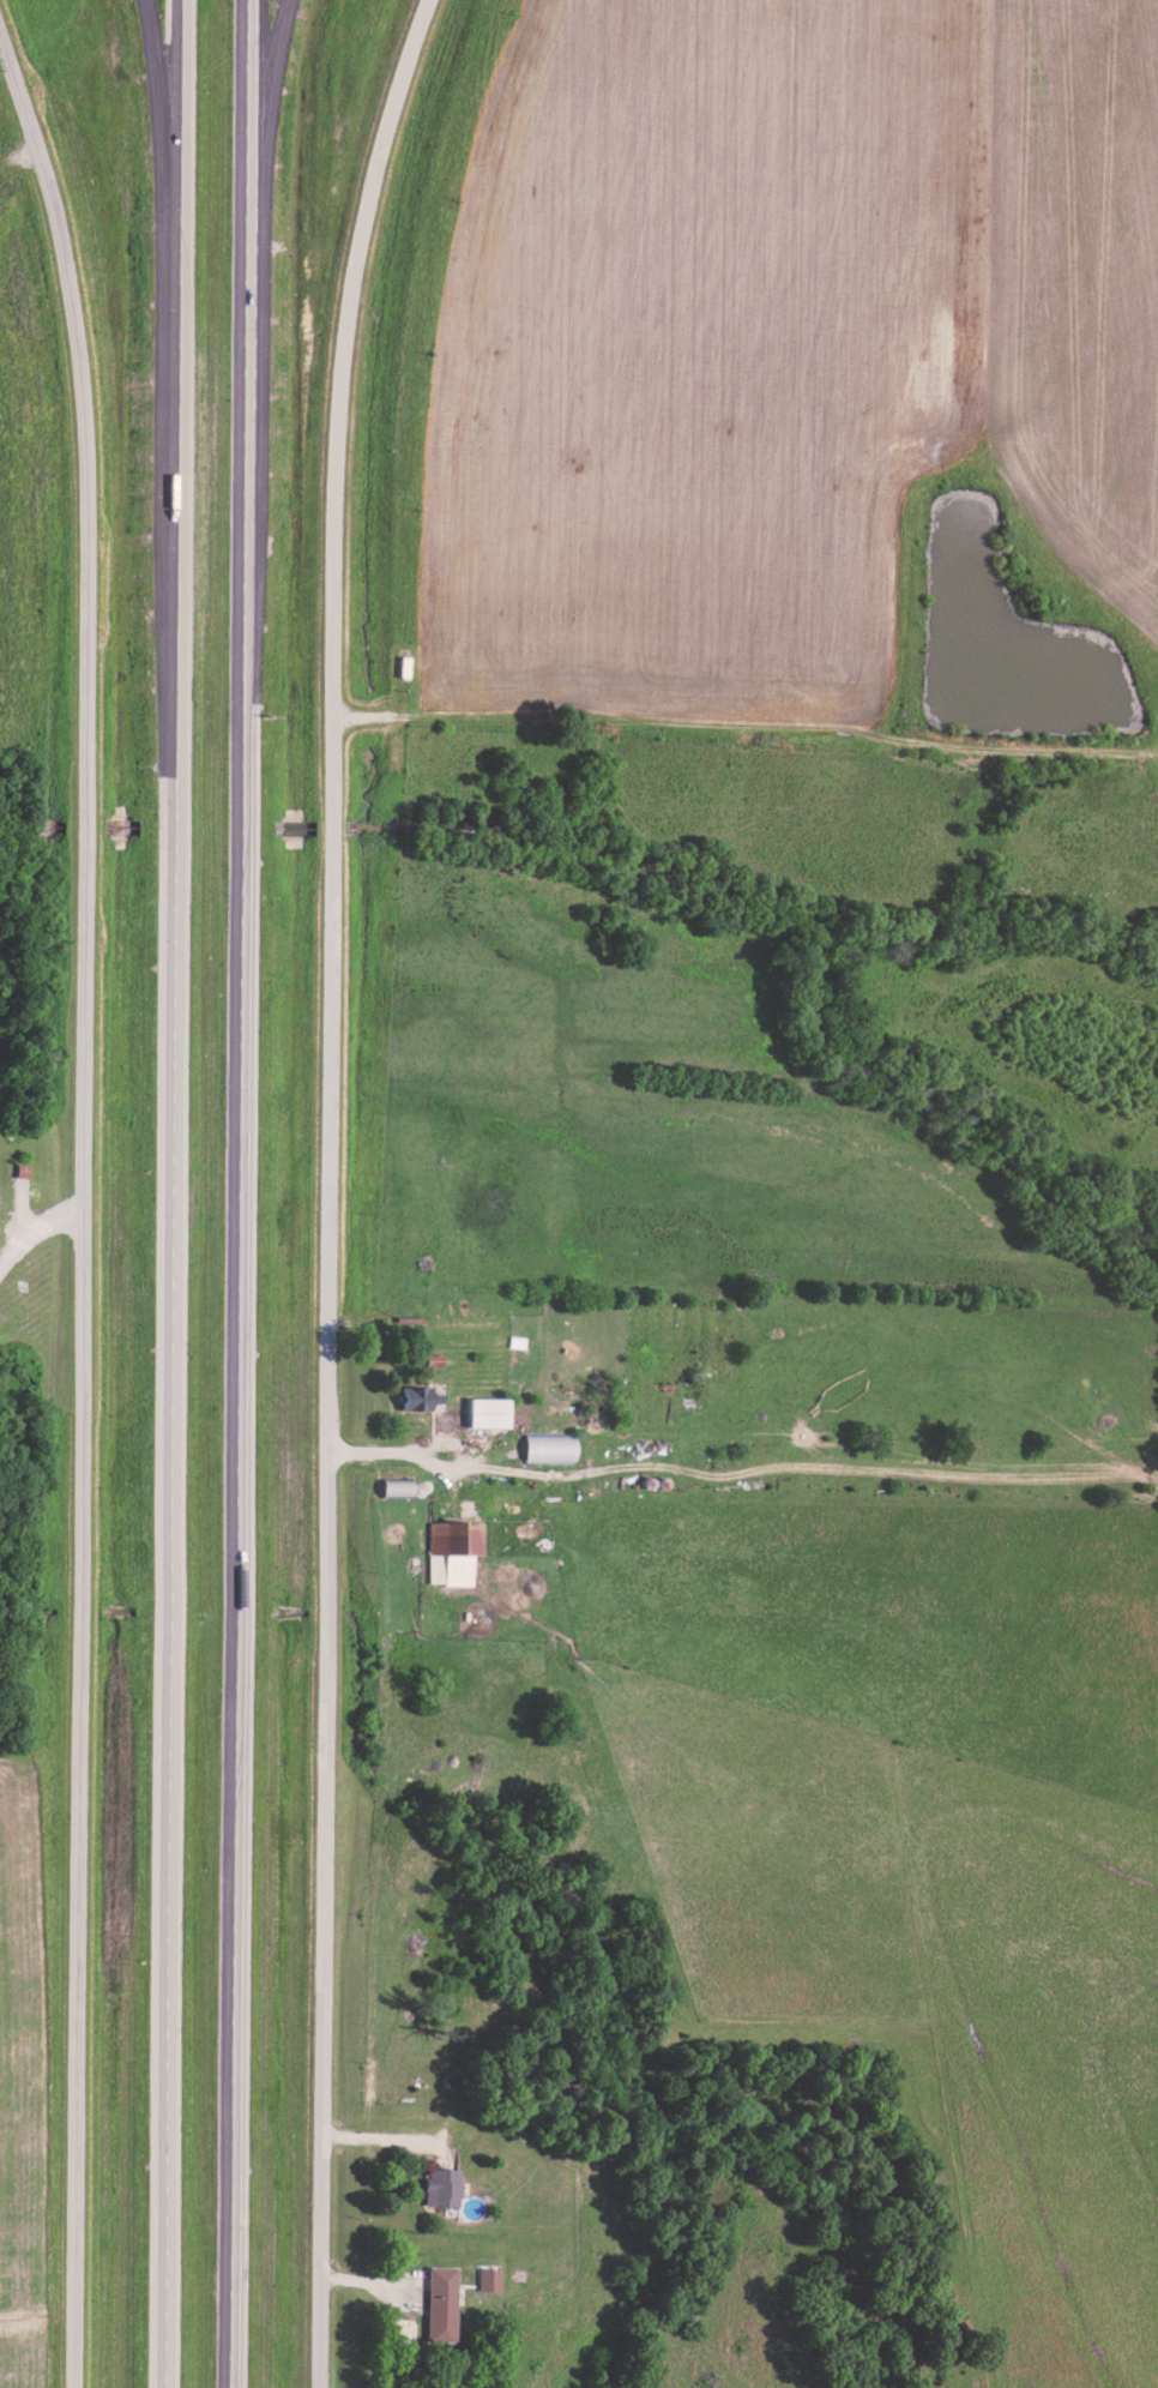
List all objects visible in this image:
road: (259, 151)
road: (165, 180)
road: (746, 729)
building: (22, 1165)
road: (331, 1187)
road: (176, 1193)
road: (239, 1193)
road: (86, 1199)
road: (35, 1226)
building: (433, 1358)
building: (414, 1395)
building: (487, 1409)
building: (548, 1445)
road: (466, 1474)
building: (452, 1548)
building: (442, 2185)
building: (488, 2276)
building: (441, 2300)

